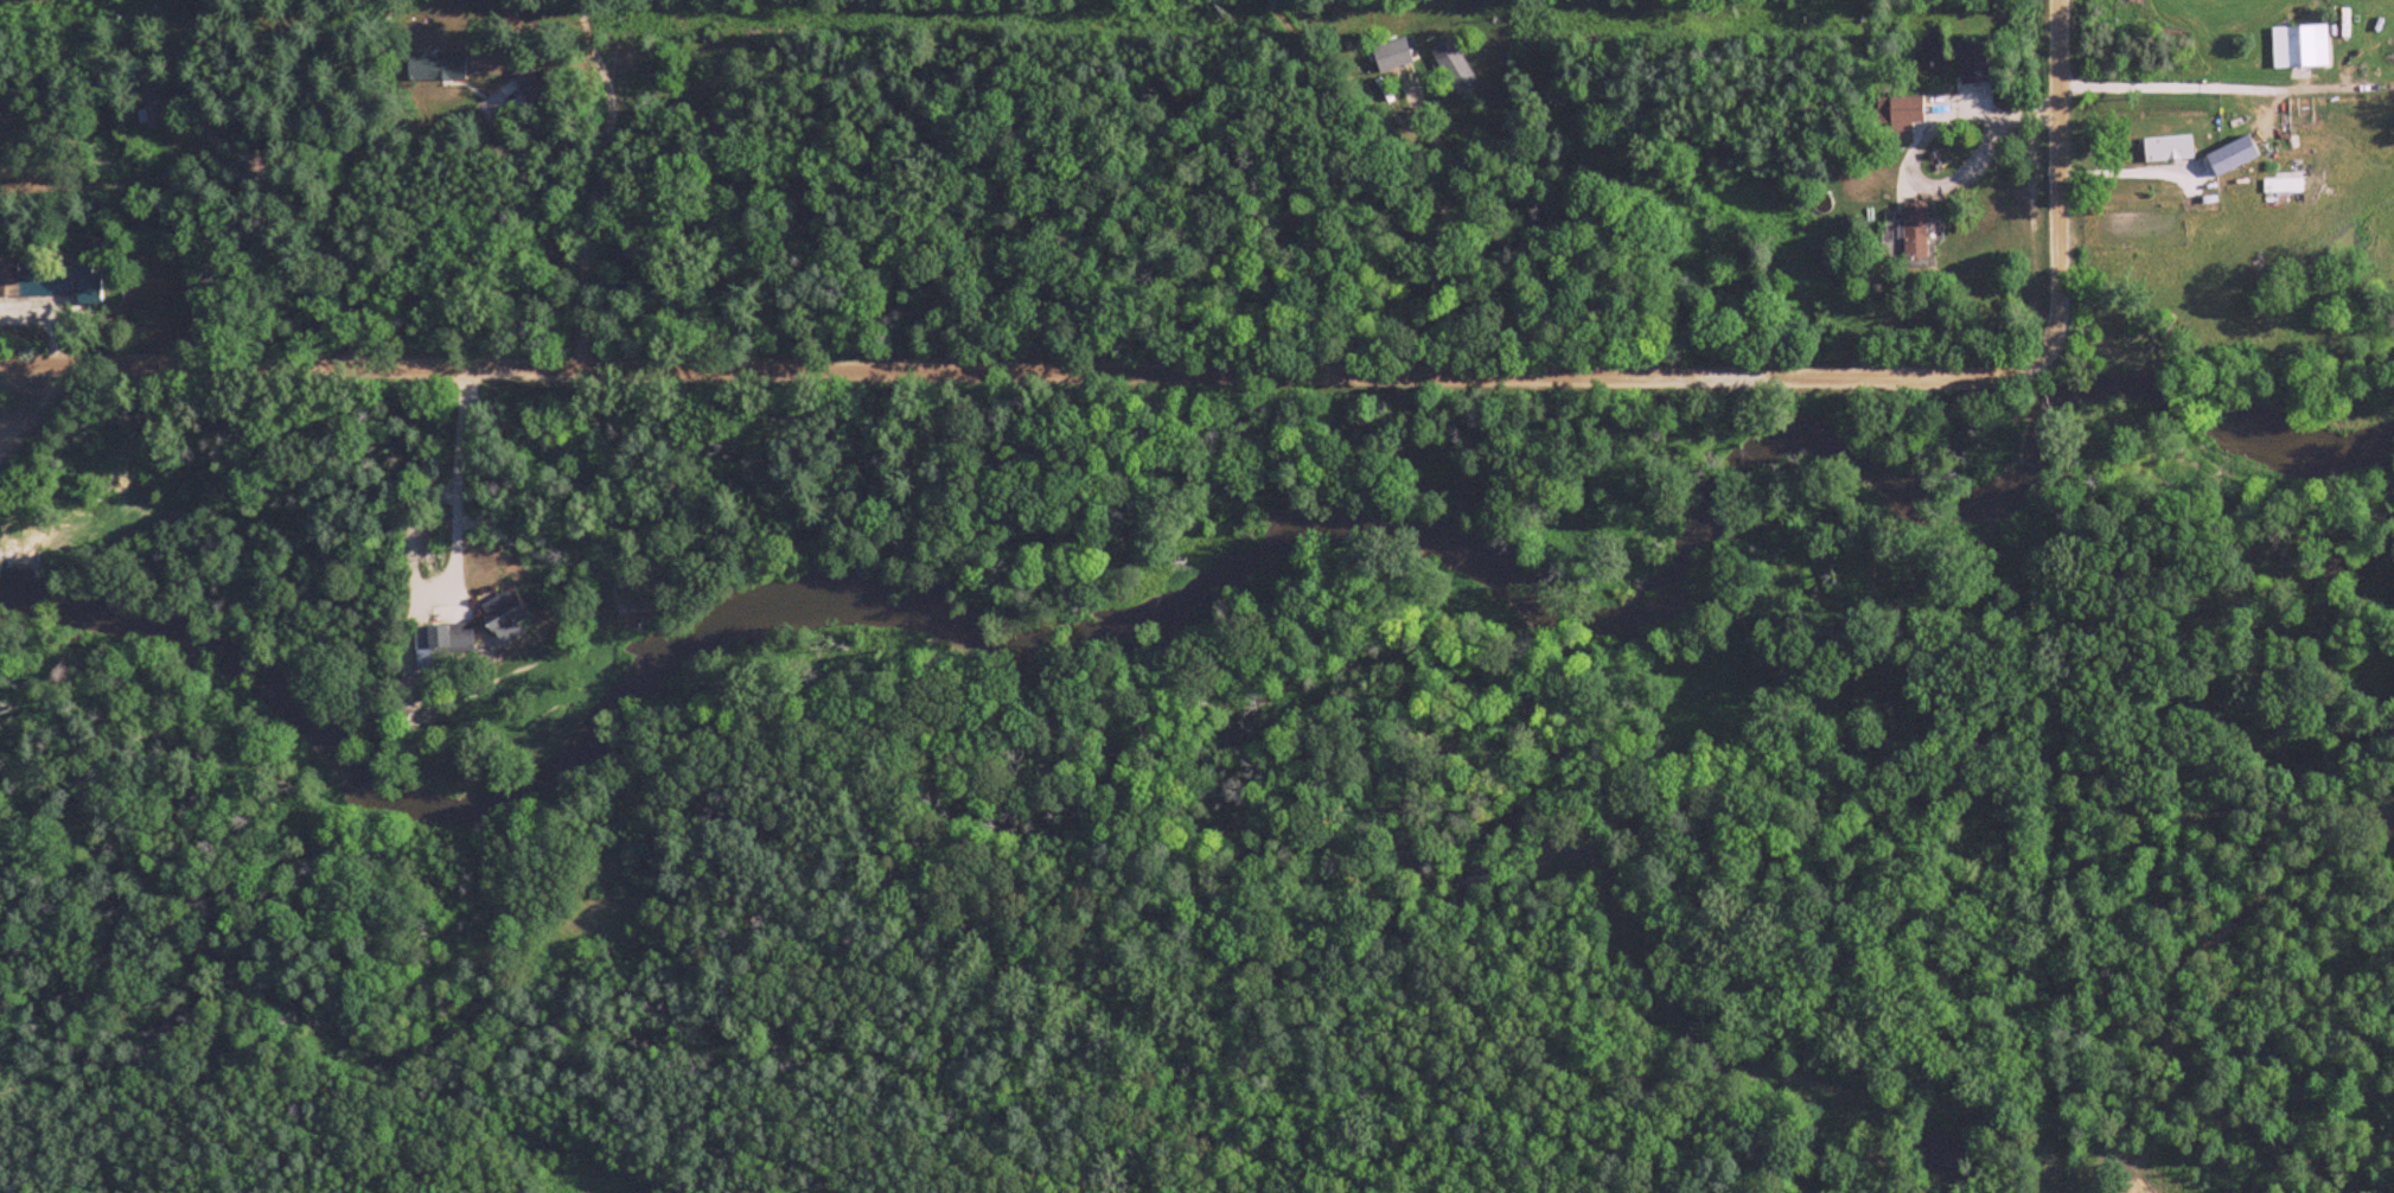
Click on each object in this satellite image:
building: (2302, 46)
building: (1972, 62)
building: (1454, 68)
building: (436, 69)
road: (2207, 84)
building: (530, 87)
building: (1, 101)
building: (149, 107)
road: (2060, 111)
building: (1900, 115)
road: (602, 171)
road: (1930, 184)
building: (1914, 230)
road: (2058, 281)
building: (52, 282)
road: (1053, 390)
road: (458, 483)
river: (1234, 582)
building: (502, 618)
building: (449, 639)

